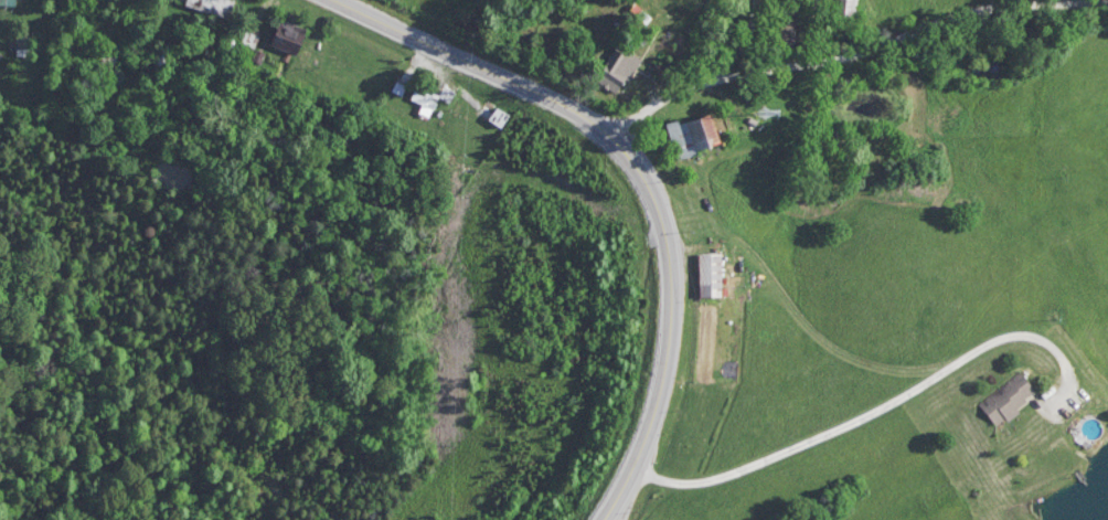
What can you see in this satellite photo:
building: (8, 3)
building: (211, 4)
road: (267, 7)
building: (839, 9)
building: (280, 33)
building: (164, 55)
road: (855, 57)
building: (615, 68)
building: (399, 88)
building: (444, 93)
building: (426, 102)
building: (499, 117)
building: (686, 134)
road: (638, 180)
building: (704, 274)
building: (1005, 400)
road: (874, 411)

